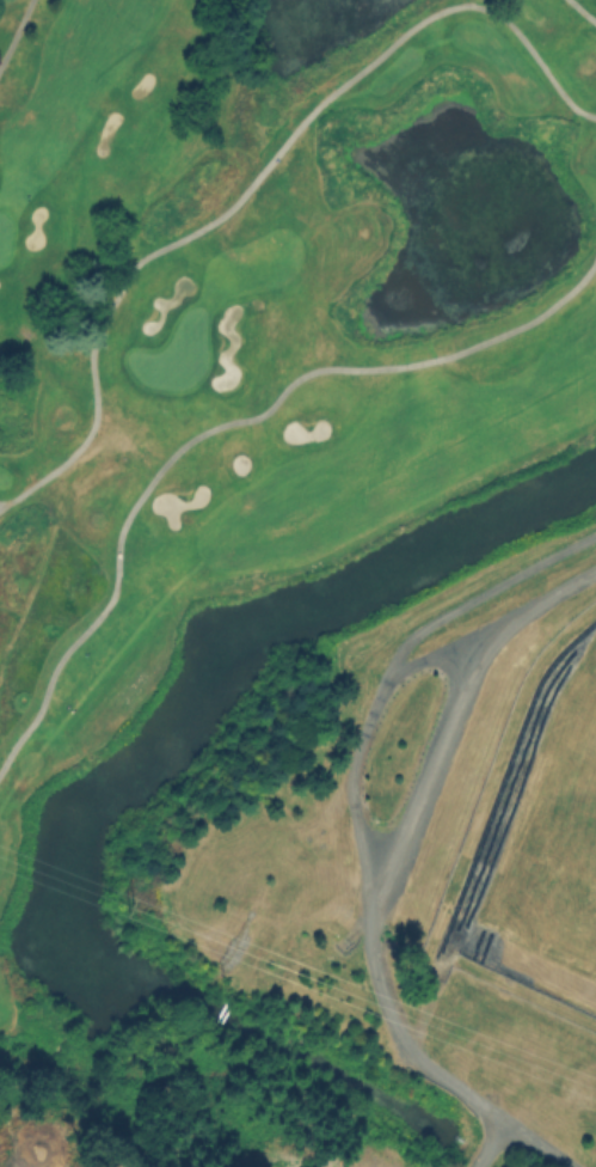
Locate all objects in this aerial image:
road: (583, 12)
road: (14, 31)
road: (259, 172)
park: (251, 391)
road: (222, 422)
road: (481, 589)
road: (362, 739)
stadium: (404, 843)
road: (395, 859)
road: (535, 1143)

